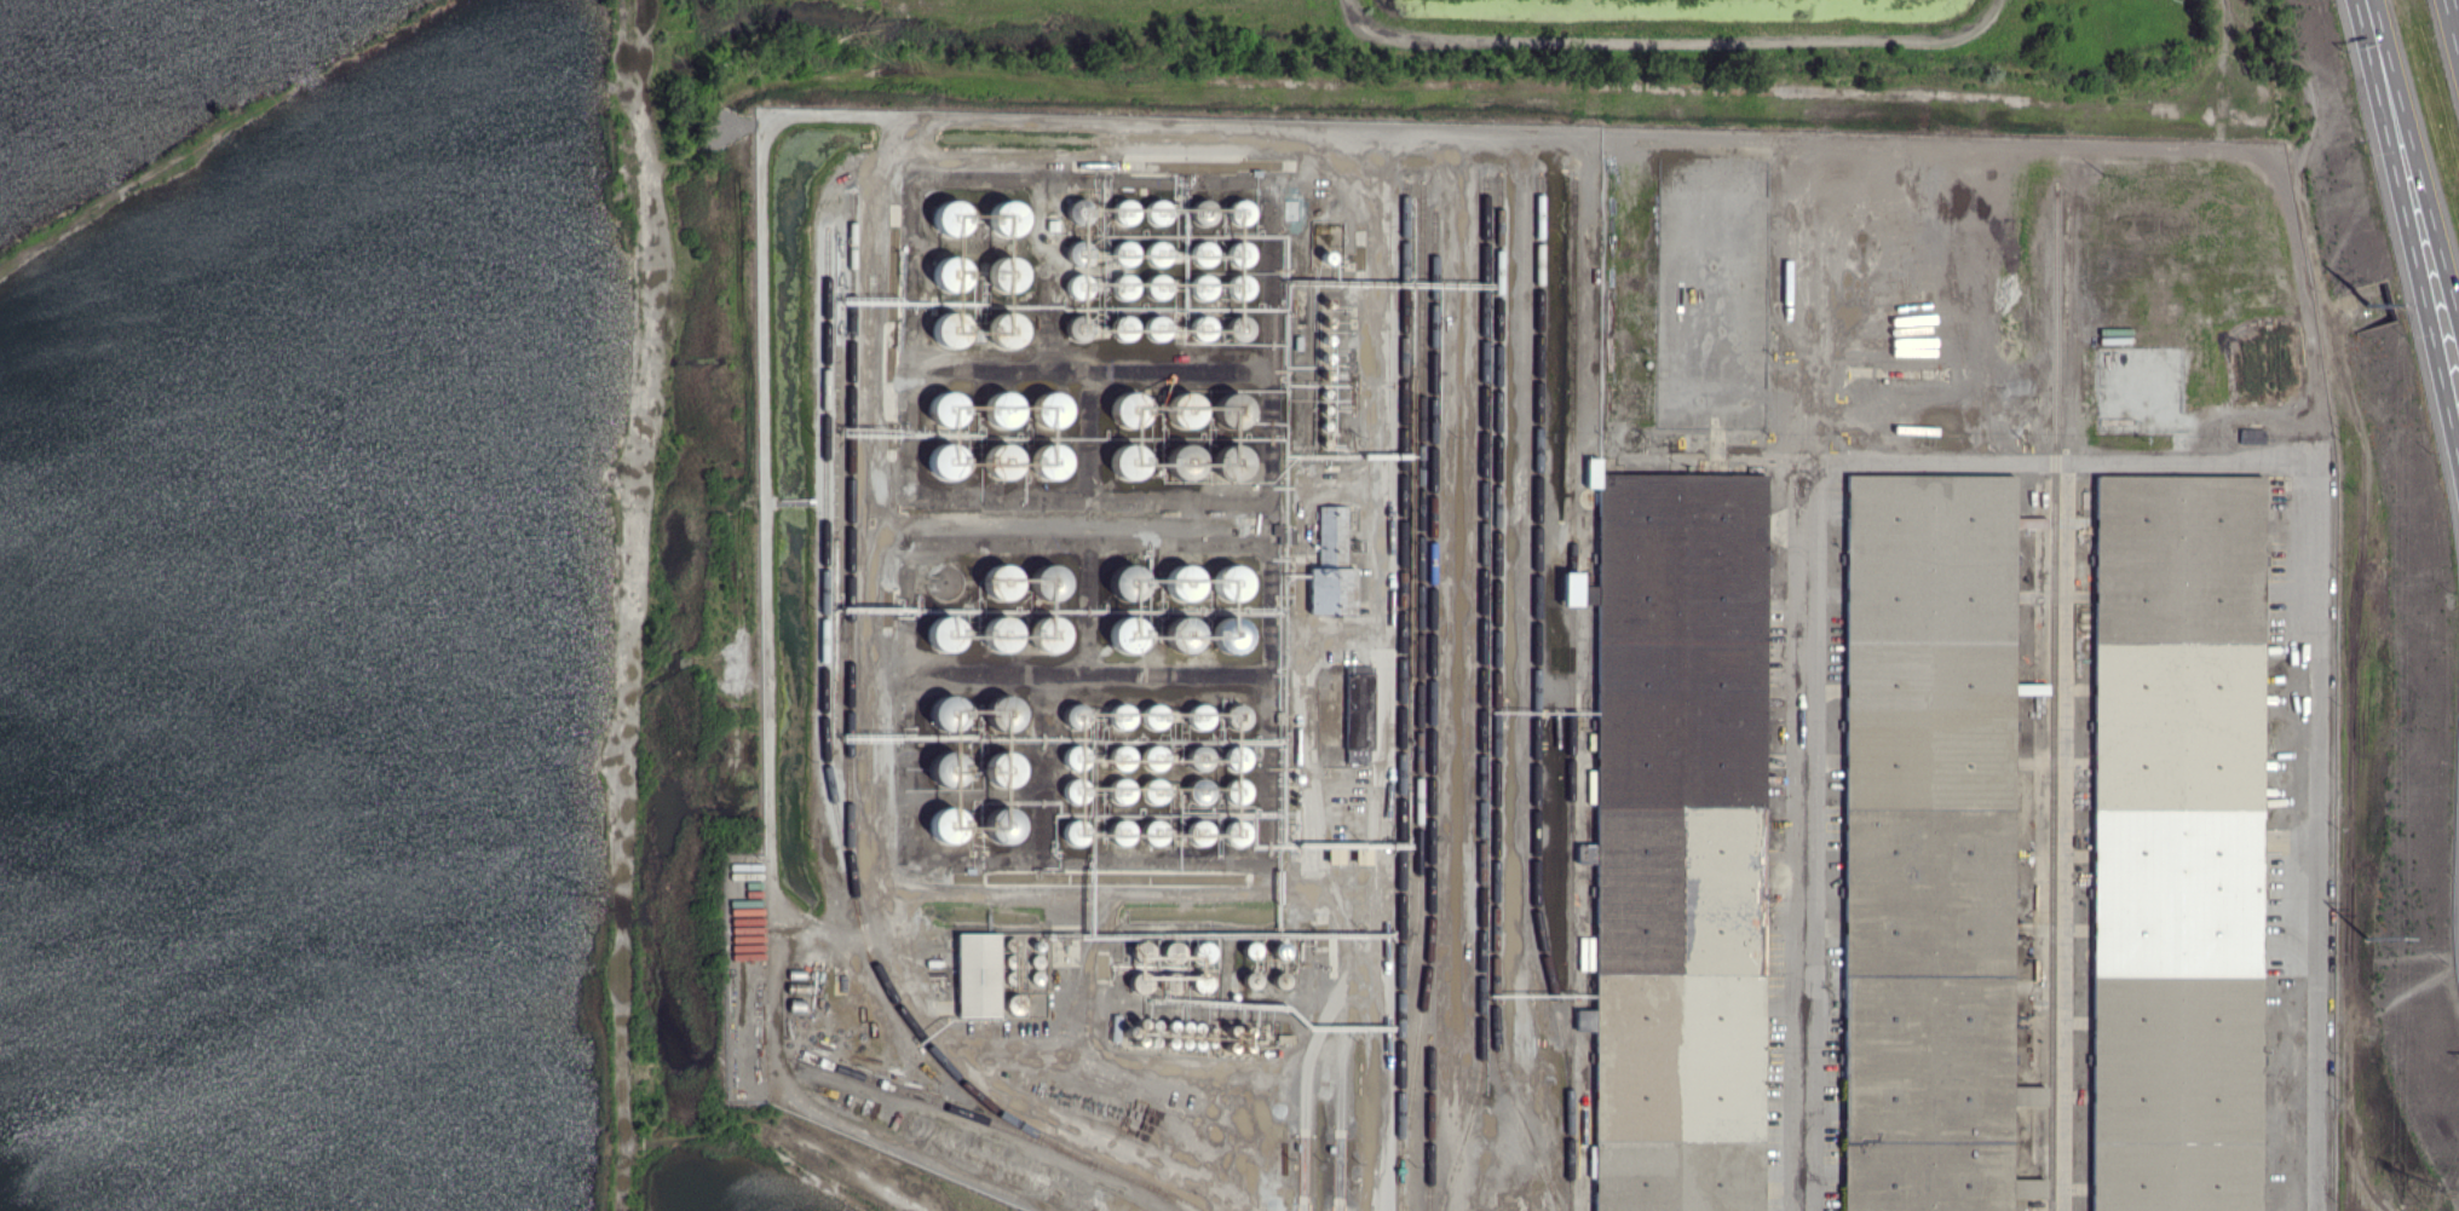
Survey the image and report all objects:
road: (2454, 15)
road: (1674, 42)
road: (2417, 158)
building: (1127, 211)
building: (1157, 212)
building: (1203, 212)
building: (1240, 212)
building: (950, 218)
building: (1006, 218)
road: (2407, 231)
building: (1202, 252)
building: (1157, 253)
building: (950, 273)
building: (1006, 273)
building: (1157, 286)
building: (1202, 286)
building: (1124, 287)
power tower: (2372, 305)
building: (1158, 327)
building: (1078, 328)
building: (1124, 328)
building: (1203, 328)
building: (950, 329)
building: (1006, 329)
building: (946, 406)
building: (1002, 406)
building: (1129, 408)
building: (1050, 409)
building: (1185, 409)
building: (946, 460)
building: (1002, 460)
building: (1050, 460)
building: (1129, 460)
building: (1184, 460)
building: (1628, 497)
railway: (851, 552)
building: (1893, 558)
building: (1332, 565)
railway: (1433, 569)
building: (1002, 581)
building: (1049, 582)
building: (1129, 582)
building: (1184, 582)
building: (1232, 582)
building: (1572, 588)
road: (1810, 589)
park: (353, 604)
railway: (1421, 616)
building: (1049, 632)
building: (946, 633)
building: (1002, 633)
building: (1182, 633)
building: (1130, 634)
building: (1232, 634)
railway: (1538, 644)
railway: (1574, 693)
railway: (1484, 694)
railway: (1403, 696)
railway: (1497, 697)
railway: (2055, 702)
building: (948, 710)
building: (1004, 713)
building: (1359, 713)
building: (1077, 714)
building: (1122, 715)
building: (1156, 715)
building: (1200, 716)
railway: (827, 754)
building: (1154, 756)
building: (1122, 757)
building: (940, 766)
building: (1004, 768)
building: (1073, 786)
building: (1122, 790)
building: (1154, 790)
building: (1200, 790)
building: (948, 824)
building: (1007, 826)
building: (1122, 831)
building: (1154, 831)
road: (2320, 832)
building: (1619, 901)
building: (1718, 935)
power tower: (2371, 938)
building: (979, 974)
building: (1252, 979)
building: (1586, 1019)
railway: (1416, 1068)
railway: (1430, 1123)
railway: (998, 1125)
building: (1751, 1147)
power tower: (2421, 1187)
building: (2039, 1189)

